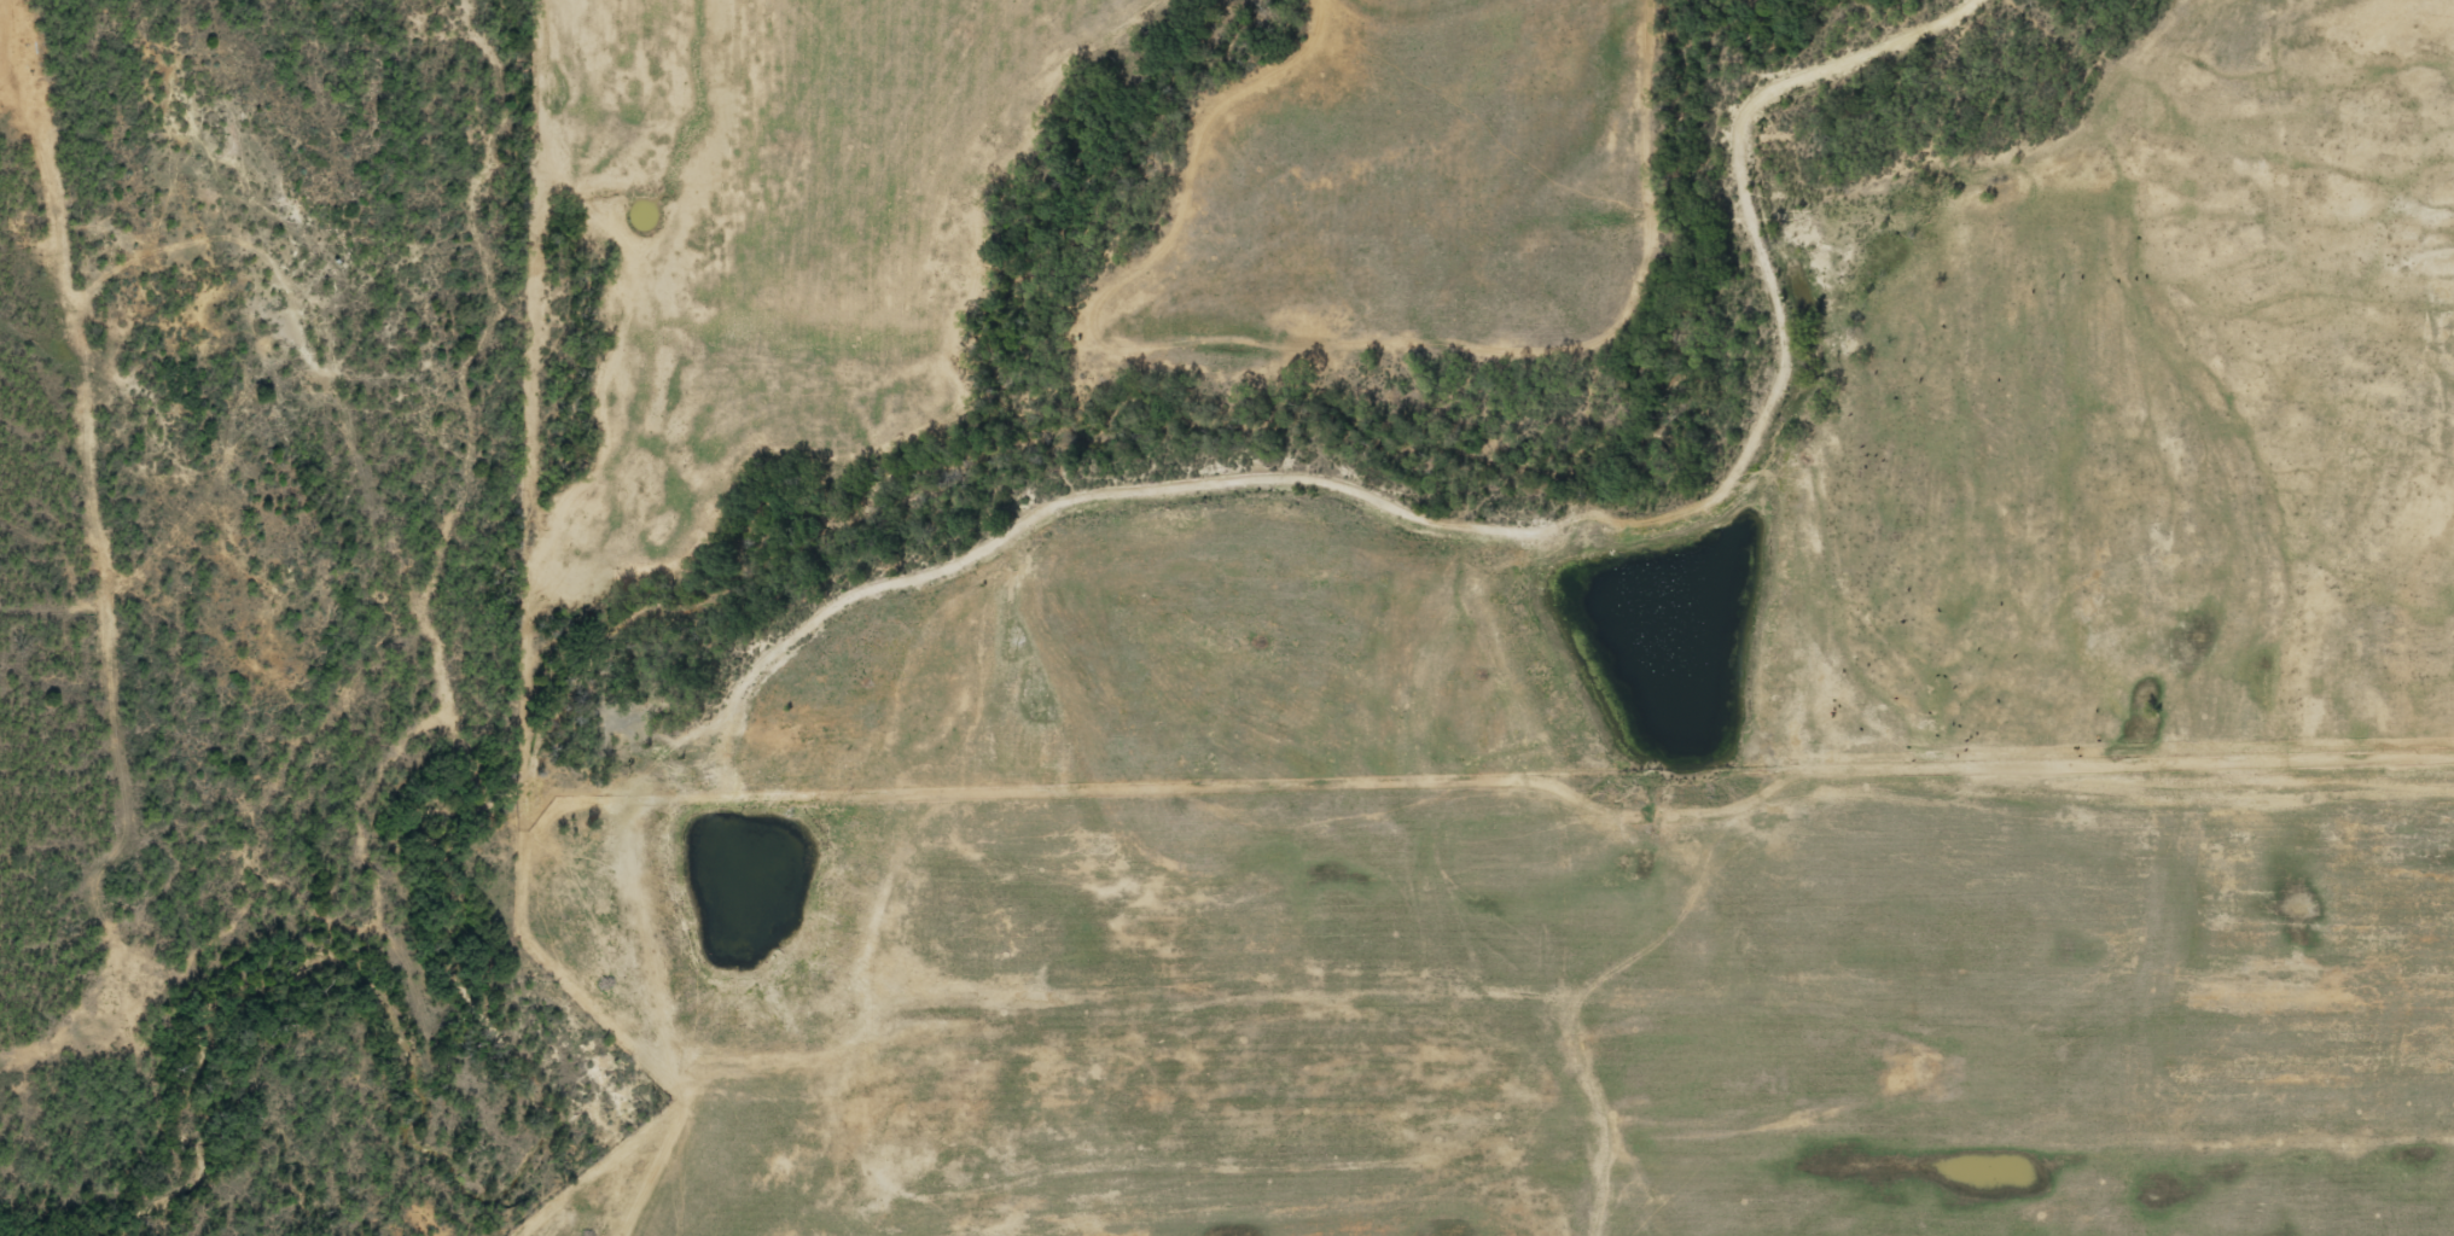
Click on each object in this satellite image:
road: (1640, 596)

